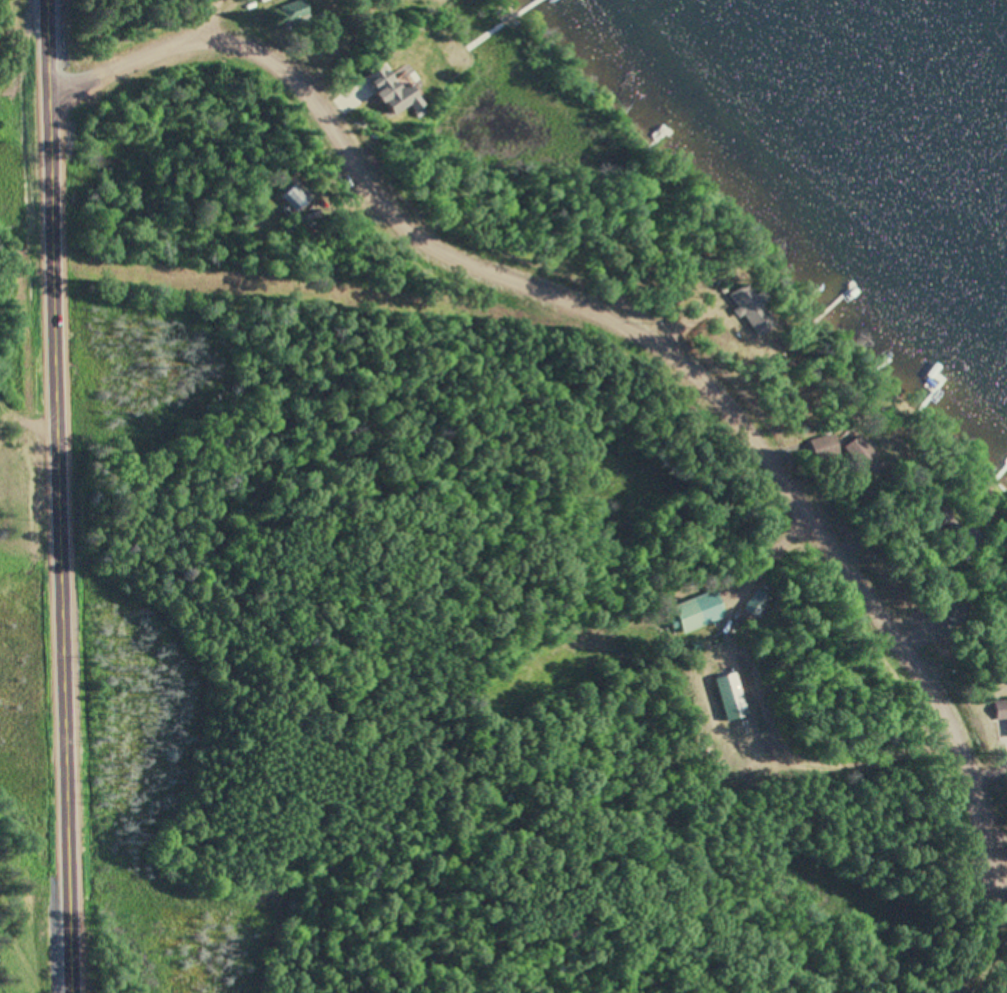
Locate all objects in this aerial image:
building: (277, 0)
building: (301, 11)
road: (253, 22)
road: (139, 52)
building: (406, 101)
building: (293, 199)
building: (755, 309)
road: (703, 379)
building: (828, 443)
road: (60, 496)
building: (955, 611)
building: (699, 612)
building: (729, 695)
building: (1001, 711)

